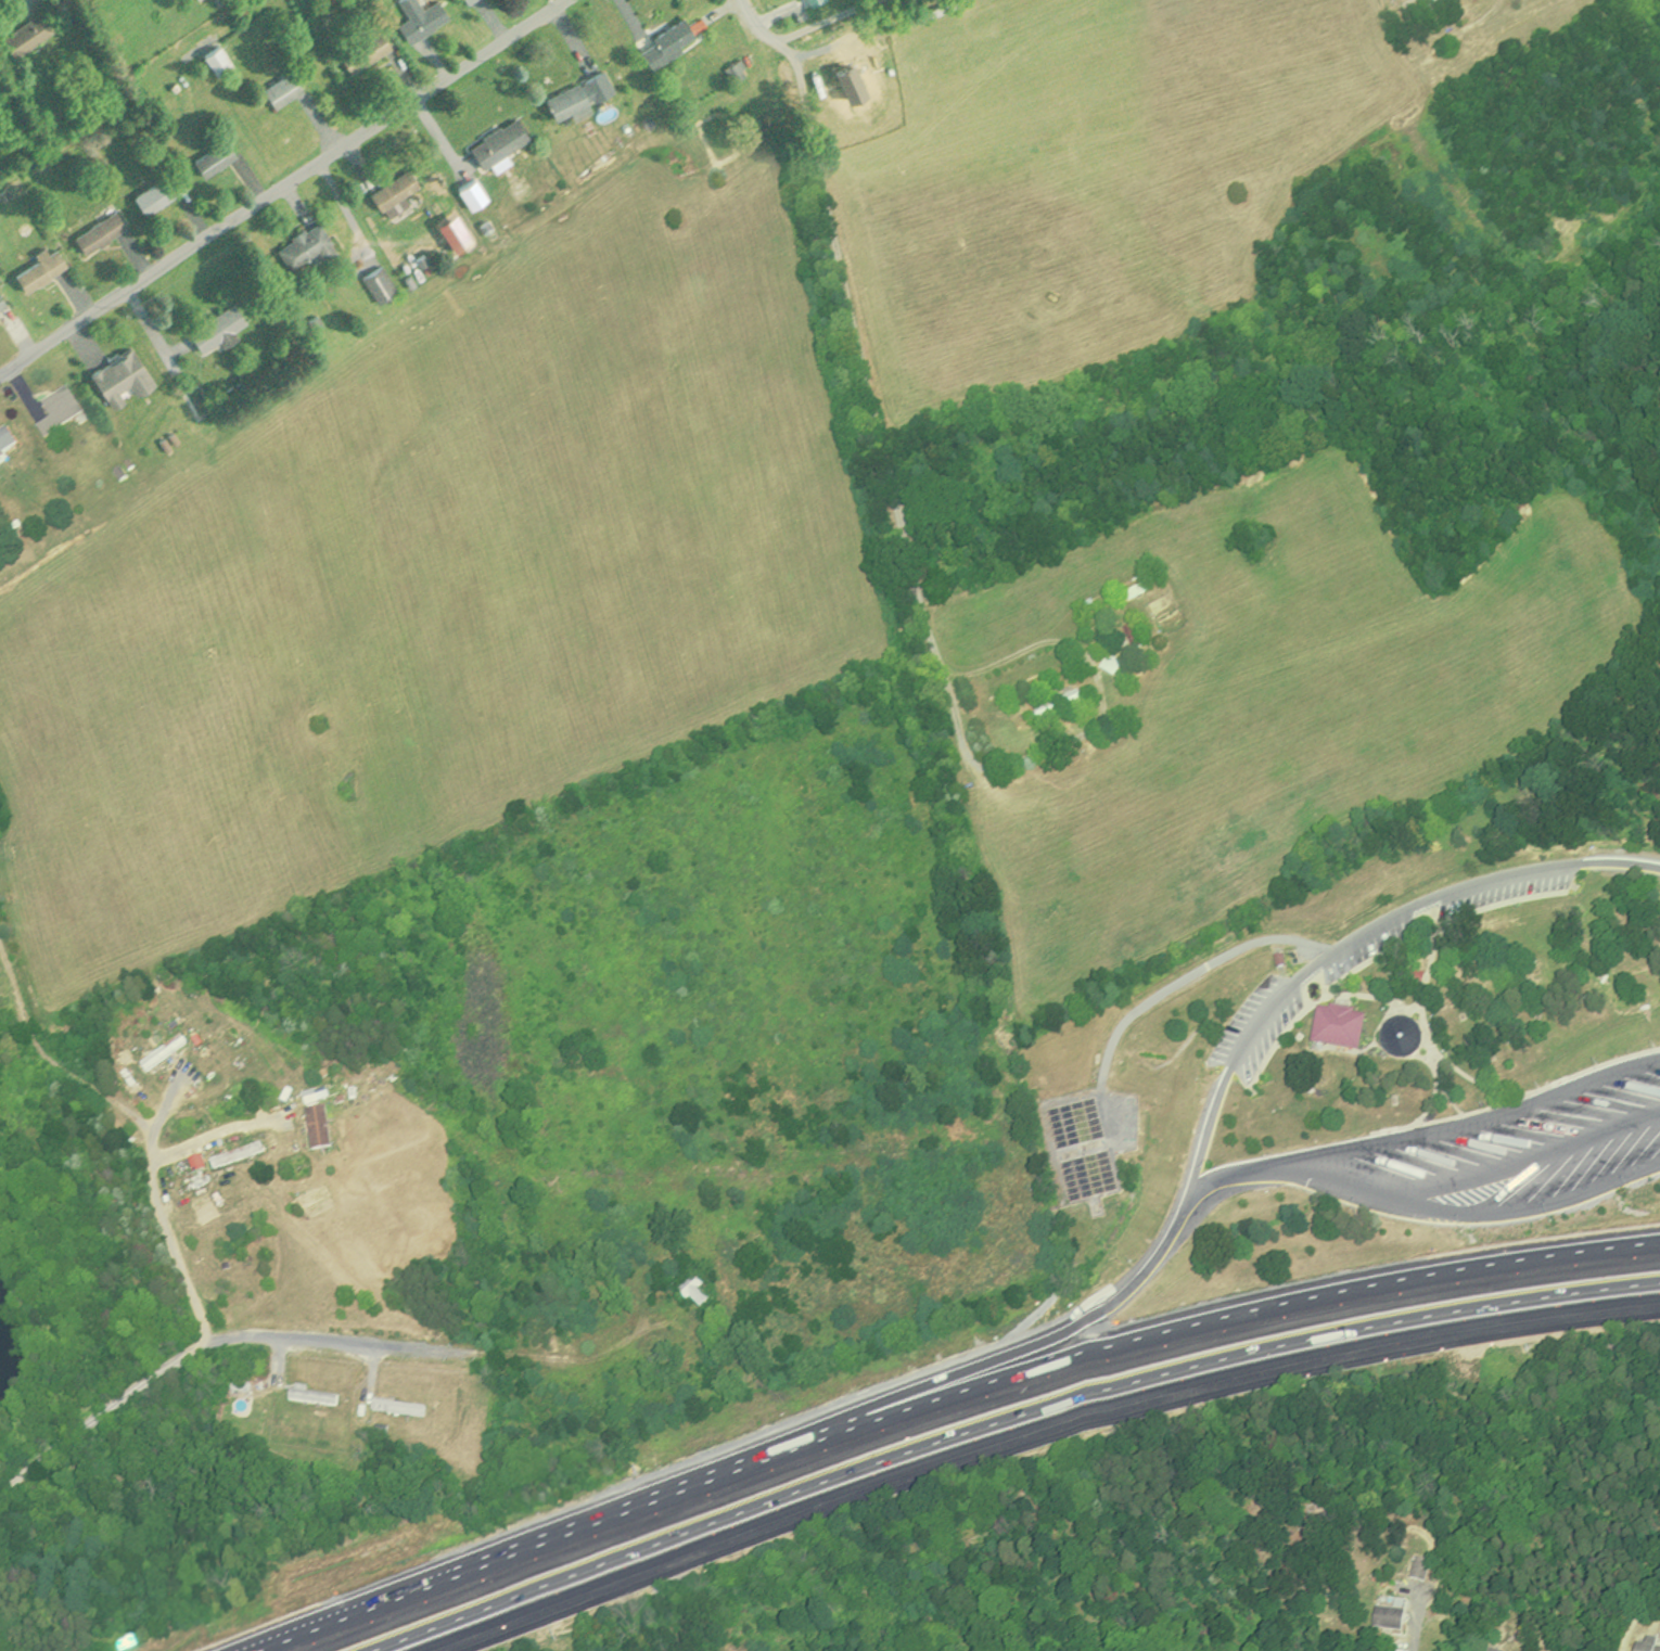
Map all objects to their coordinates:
road: (1476, 16)
road: (800, 27)
road: (285, 184)
road: (864, 351)
parking lot: (1510, 884)
road: (1354, 937)
parking lot: (1371, 939)
road: (1191, 974)
building: (1415, 975)
parking lot: (1260, 1024)
building: (1339, 1027)
building: (1401, 1036)
building: (164, 1051)
building: (315, 1093)
road: (138, 1121)
building: (319, 1125)
road: (1423, 1129)
parking lot: (1515, 1130)
building: (238, 1153)
road: (1495, 1172)
road: (280, 1334)
road: (929, 1383)
road: (946, 1396)
road: (1033, 1431)
road: (1416, 1625)

